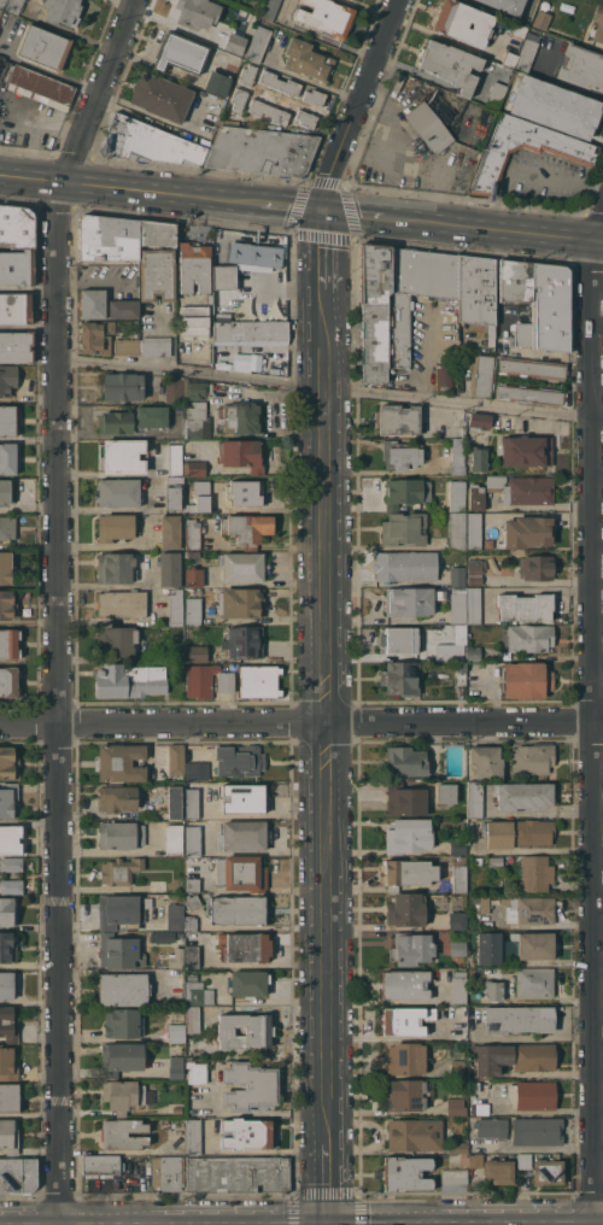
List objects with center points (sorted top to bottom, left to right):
building: (356, 0)
building: (2, 2)
building: (507, 5)
building: (13, 6)
building: (270, 8)
building: (63, 11)
building: (197, 13)
building: (543, 14)
building: (326, 16)
building: (463, 22)
building: (598, 24)
building: (519, 29)
road: (440, 34)
building: (235, 43)
building: (258, 43)
building: (43, 47)
building: (180, 53)
building: (526, 54)
building: (510, 58)
building: (308, 59)
building: (451, 65)
building: (581, 68)
road: (47, 69)
building: (247, 75)
road: (556, 81)
building: (280, 82)
building: (217, 83)
building: (37, 84)
building: (496, 94)
building: (160, 96)
building: (315, 96)
building: (239, 98)
road: (355, 104)
building: (268, 111)
building: (305, 118)
road: (33, 124)
building: (429, 127)
road: (384, 129)
building: (147, 142)
building: (262, 151)
building: (493, 159)
road: (527, 169)
road: (429, 171)
road: (387, 187)
road: (129, 189)
road: (292, 206)
traffic signals: (324, 211)
road: (356, 213)
building: (17, 225)
road: (494, 229)
building: (157, 233)
building: (107, 238)
road: (324, 252)
building: (254, 254)
building: (17, 266)
building: (194, 266)
building: (157, 274)
building: (224, 276)
building: (476, 293)
building: (210, 299)
building: (538, 300)
building: (397, 301)
building: (93, 304)
building: (16, 307)
building: (123, 309)
building: (194, 320)
road: (598, 329)
building: (250, 332)
building: (95, 336)
building: (16, 346)
building: (128, 346)
building: (156, 346)
building: (532, 368)
building: (482, 375)
building: (445, 376)
building: (7, 379)
building: (83, 385)
building: (123, 386)
road: (330, 388)
building: (174, 389)
building: (198, 389)
building: (531, 394)
building: (152, 416)
building: (242, 417)
building: (194, 418)
building: (397, 418)
building: (7, 420)
building: (479, 420)
building: (116, 422)
building: (458, 427)
building: (426, 440)
building: (526, 450)
building: (242, 455)
building: (400, 455)
building: (122, 456)
building: (457, 456)
building: (7, 458)
building: (479, 458)
building: (175, 459)
building: (194, 468)
building: (174, 480)
building: (522, 488)
building: (5, 491)
building: (119, 492)
building: (244, 492)
building: (405, 492)
building: (456, 496)
building: (200, 497)
building: (476, 497)
building: (172, 498)
road: (262, 508)
building: (115, 526)
building: (7, 528)
building: (248, 528)
building: (404, 528)
building: (456, 531)
building: (528, 531)
building: (170, 532)
building: (476, 533)
building: (192, 534)
building: (191, 553)
building: (405, 565)
building: (244, 567)
building: (535, 567)
building: (116, 568)
building: (6, 569)
building: (170, 569)
building: (475, 570)
building: (457, 576)
building: (194, 578)
road: (599, 584)
building: (411, 600)
building: (122, 603)
building: (7, 604)
road: (59, 605)
building: (241, 605)
building: (457, 605)
building: (474, 605)
building: (525, 606)
building: (175, 608)
building: (193, 610)
building: (529, 637)
building: (403, 639)
building: (117, 640)
building: (245, 641)
building: (8, 643)
building: (452, 646)
building: (197, 653)
building: (473, 653)
building: (175, 655)
building: (461, 673)
building: (400, 678)
building: (129, 680)
building: (200, 680)
building: (258, 680)
building: (526, 680)
building: (8, 681)
building: (224, 681)
road: (327, 715)
road: (596, 716)
road: (301, 723)
building: (532, 758)
building: (176, 760)
building: (405, 761)
building: (239, 762)
building: (486, 762)
building: (8, 763)
building: (121, 763)
building: (197, 770)
building: (446, 793)
building: (523, 795)
building: (117, 798)
building: (244, 798)
building: (474, 798)
building: (8, 799)
building: (406, 799)
building: (191, 801)
building: (174, 802)
building: (519, 832)
building: (121, 834)
building: (244, 836)
building: (408, 836)
building: (11, 839)
building: (174, 839)
building: (193, 840)
building: (457, 848)
road: (529, 851)
building: (476, 861)
building: (496, 861)
building: (11, 864)
building: (119, 871)
building: (241, 873)
building: (408, 873)
building: (535, 873)
building: (459, 874)
building: (192, 884)
building: (157, 885)
building: (11, 886)
building: (193, 902)
building: (481, 903)
building: (406, 909)
building: (528, 909)
building: (8, 910)
building: (122, 910)
building: (236, 910)
building: (175, 916)
building: (457, 920)
building: (191, 922)
building: (180, 934)
building: (162, 937)
building: (534, 944)
building: (244, 946)
building: (7, 948)
building: (411, 948)
building: (457, 948)
building: (488, 948)
building: (119, 951)
building: (192, 956)
building: (176, 959)
building: (473, 973)
building: (192, 977)
building: (534, 981)
building: (247, 983)
building: (404, 984)
building: (6, 985)
building: (458, 986)
building: (123, 989)
building: (493, 990)
building: (198, 994)
road: (599, 1003)
building: (192, 1019)
building: (405, 1019)
building: (517, 1019)
building: (123, 1024)
building: (458, 1024)
building: (8, 1025)
building: (245, 1030)
building: (176, 1032)
building: (122, 1057)
building: (406, 1057)
building: (513, 1057)
building: (7, 1063)
building: (176, 1067)
building: (457, 1068)
building: (197, 1072)
building: (248, 1085)
building: (405, 1094)
building: (532, 1095)
building: (122, 1096)
building: (8, 1097)
building: (478, 1097)
building: (456, 1107)
building: (491, 1127)
building: (537, 1130)
building: (123, 1133)
building: (246, 1133)
building: (415, 1135)
building: (8, 1136)
building: (193, 1136)
building: (457, 1148)
building: (525, 1161)
building: (100, 1165)
building: (493, 1170)
building: (548, 1171)
building: (168, 1172)
building: (405, 1173)
building: (18, 1174)
building: (238, 1174)
building: (455, 1176)
road: (329, 1182)

